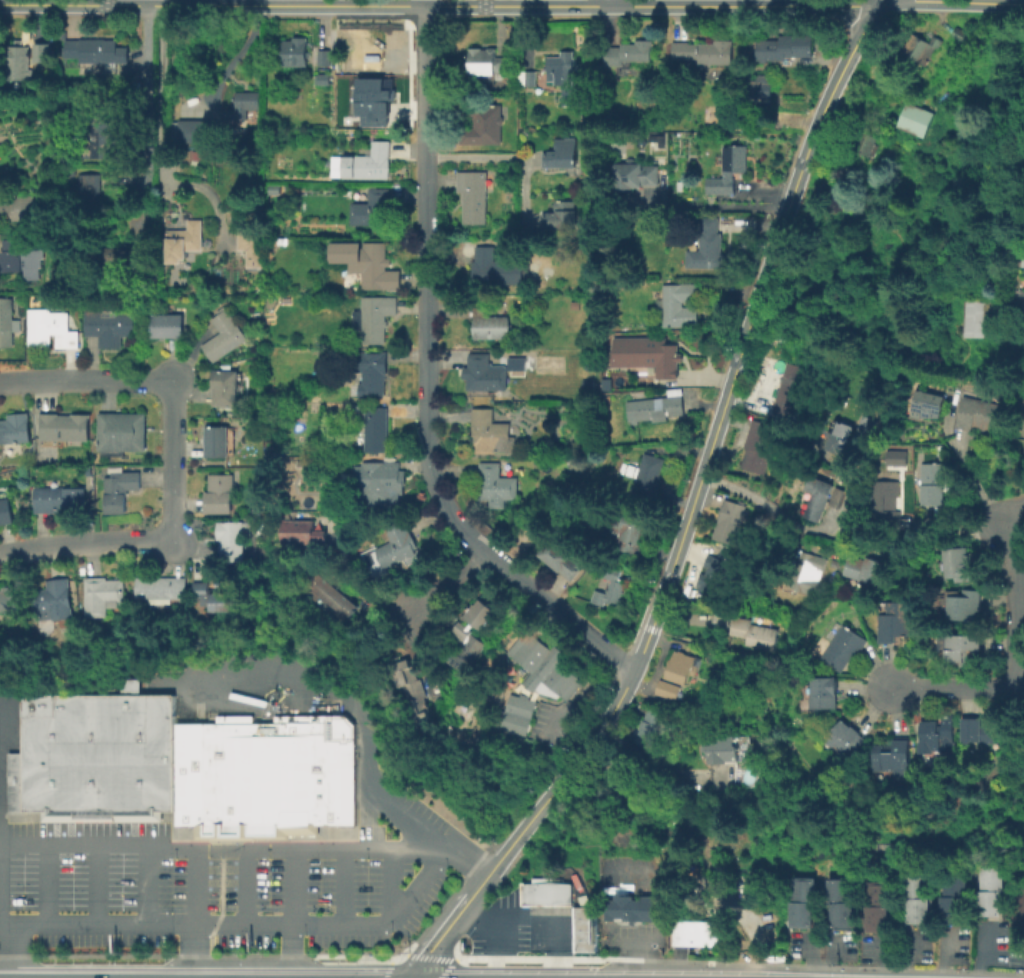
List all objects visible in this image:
road: (877, 0)
road: (193, 2)
road: (610, 2)
road: (212, 4)
road: (724, 4)
road: (155, 9)
building: (963, 35)
building: (45, 47)
building: (921, 47)
building: (296, 48)
building: (785, 48)
building: (96, 50)
building: (371, 51)
building: (704, 51)
building: (627, 52)
building: (324, 55)
road: (230, 58)
building: (485, 61)
building: (18, 62)
building: (526, 76)
building: (563, 76)
building: (322, 77)
road: (146, 87)
building: (760, 88)
road: (425, 90)
building: (372, 100)
building: (242, 106)
building: (913, 119)
building: (483, 125)
building: (191, 130)
building: (99, 134)
road: (163, 142)
building: (865, 143)
building: (890, 150)
building: (561, 154)
building: (196, 155)
road: (480, 156)
building: (368, 162)
building: (727, 169)
building: (73, 170)
building: (635, 171)
road: (128, 179)
building: (680, 185)
building: (275, 187)
building: (89, 189)
road: (168, 189)
building: (473, 195)
road: (719, 206)
building: (24, 207)
building: (372, 207)
building: (561, 215)
building: (185, 241)
building: (706, 245)
building: (252, 246)
building: (21, 258)
building: (368, 260)
building: (495, 268)
building: (678, 304)
road: (751, 309)
building: (376, 316)
building: (978, 316)
building: (488, 321)
building: (6, 322)
building: (167, 325)
building: (109, 326)
building: (51, 328)
building: (223, 336)
building: (650, 352)
building: (515, 363)
building: (225, 366)
building: (792, 371)
building: (370, 372)
building: (485, 374)
road: (83, 380)
building: (224, 386)
building: (786, 398)
building: (928, 404)
building: (657, 406)
building: (977, 414)
building: (868, 424)
building: (65, 425)
building: (15, 426)
building: (376, 429)
building: (122, 430)
building: (488, 430)
building: (838, 436)
road: (950, 437)
building: (216, 441)
building: (1023, 444)
building: (759, 445)
road: (174, 459)
building: (1022, 459)
building: (255, 463)
road: (428, 468)
building: (292, 473)
building: (645, 475)
building: (373, 480)
building: (933, 483)
building: (495, 484)
building: (119, 489)
building: (219, 493)
building: (57, 497)
building: (817, 497)
building: (836, 497)
building: (885, 503)
building: (5, 510)
road: (1011, 514)
building: (732, 520)
road: (789, 524)
road: (945, 526)
building: (627, 531)
building: (302, 533)
building: (233, 539)
road: (85, 542)
building: (396, 545)
building: (560, 557)
building: (957, 564)
building: (864, 568)
building: (808, 572)
building: (709, 574)
road: (447, 582)
road: (1022, 583)
building: (160, 587)
building: (610, 587)
building: (101, 595)
building: (329, 596)
building: (213, 597)
road: (1020, 598)
building: (10, 600)
building: (53, 600)
building: (965, 604)
building: (856, 620)
building: (894, 620)
building: (754, 632)
building: (470, 634)
road: (675, 636)
building: (962, 645)
building: (843, 646)
road: (716, 647)
road: (640, 648)
road: (758, 658)
building: (543, 666)
building: (680, 666)
road: (797, 667)
road: (293, 675)
road: (847, 675)
building: (667, 688)
road: (958, 688)
building: (412, 690)
building: (824, 695)
building: (516, 714)
building: (647, 727)
building: (979, 729)
building: (938, 732)
road: (556, 736)
building: (844, 738)
building: (722, 749)
building: (96, 753)
building: (892, 757)
road: (569, 767)
road: (524, 773)
building: (263, 775)
building: (11, 781)
road: (221, 849)
parking lot: (230, 883)
road: (387, 884)
road: (46, 885)
road: (94, 885)
road: (145, 885)
road: (341, 885)
road: (292, 886)
road: (190, 887)
road: (244, 887)
building: (989, 891)
building: (545, 892)
building: (951, 895)
building: (914, 899)
road: (443, 901)
building: (799, 901)
building: (840, 902)
building: (877, 905)
road: (665, 906)
building: (635, 908)
road: (473, 916)
road: (450, 918)
road: (549, 922)
road: (244, 925)
building: (583, 928)
building: (693, 932)
road: (494, 948)
road: (4, 949)
road: (292, 950)
road: (191, 951)
road: (455, 951)
road: (980, 951)
road: (195, 955)
road: (429, 956)
road: (397, 959)
road: (641, 960)
road: (740, 963)
road: (445, 968)
road: (385, 969)

